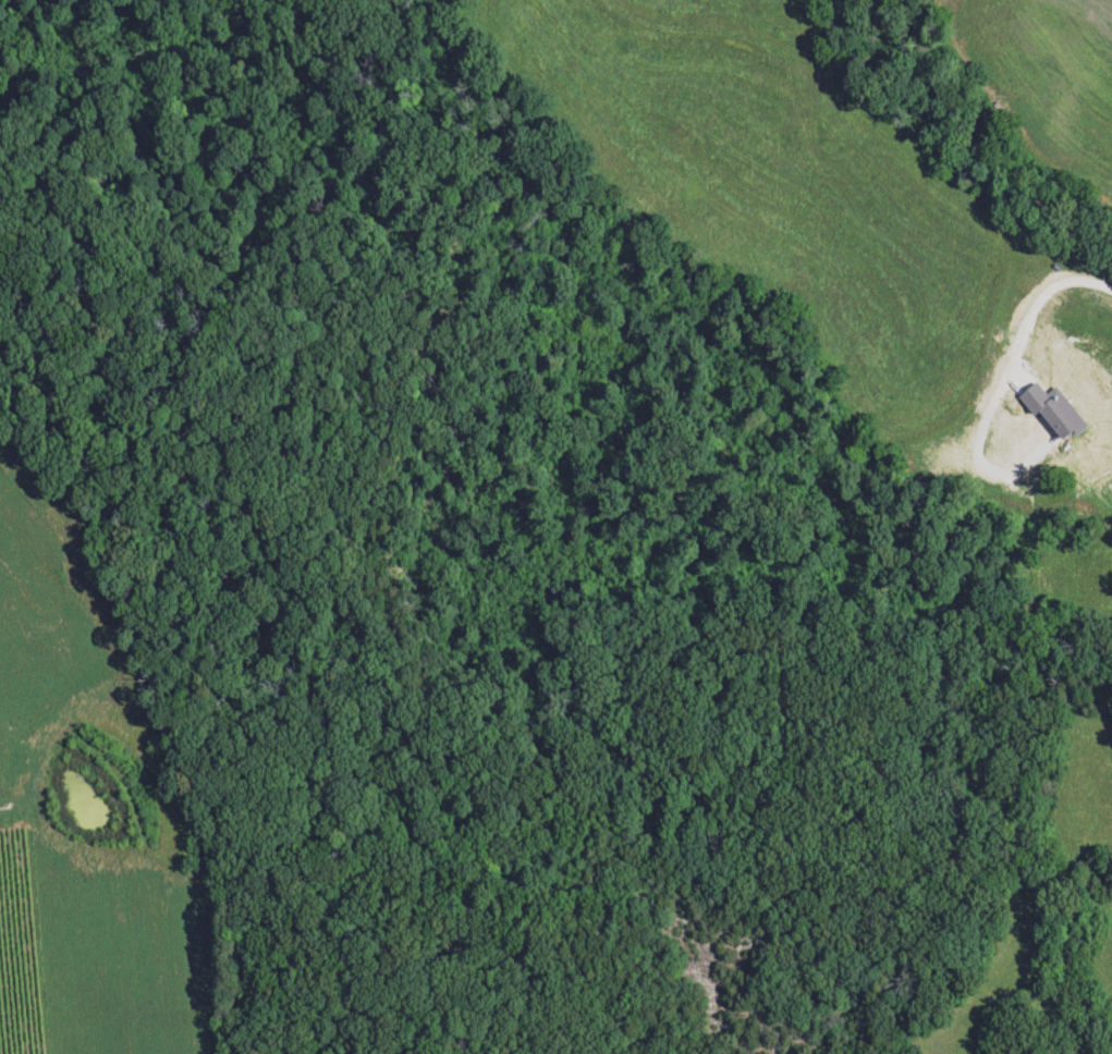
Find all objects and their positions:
road: (191, 973)

